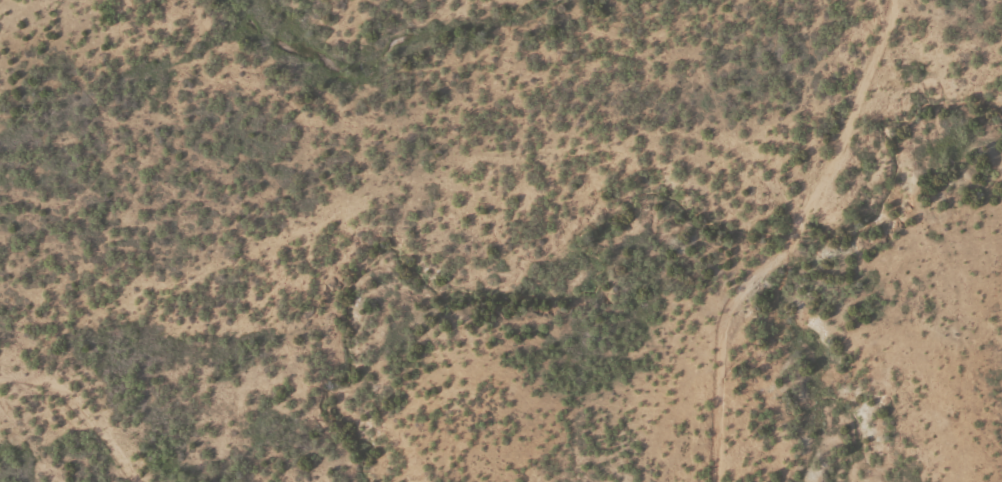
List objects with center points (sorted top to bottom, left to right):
road: (727, 234)

